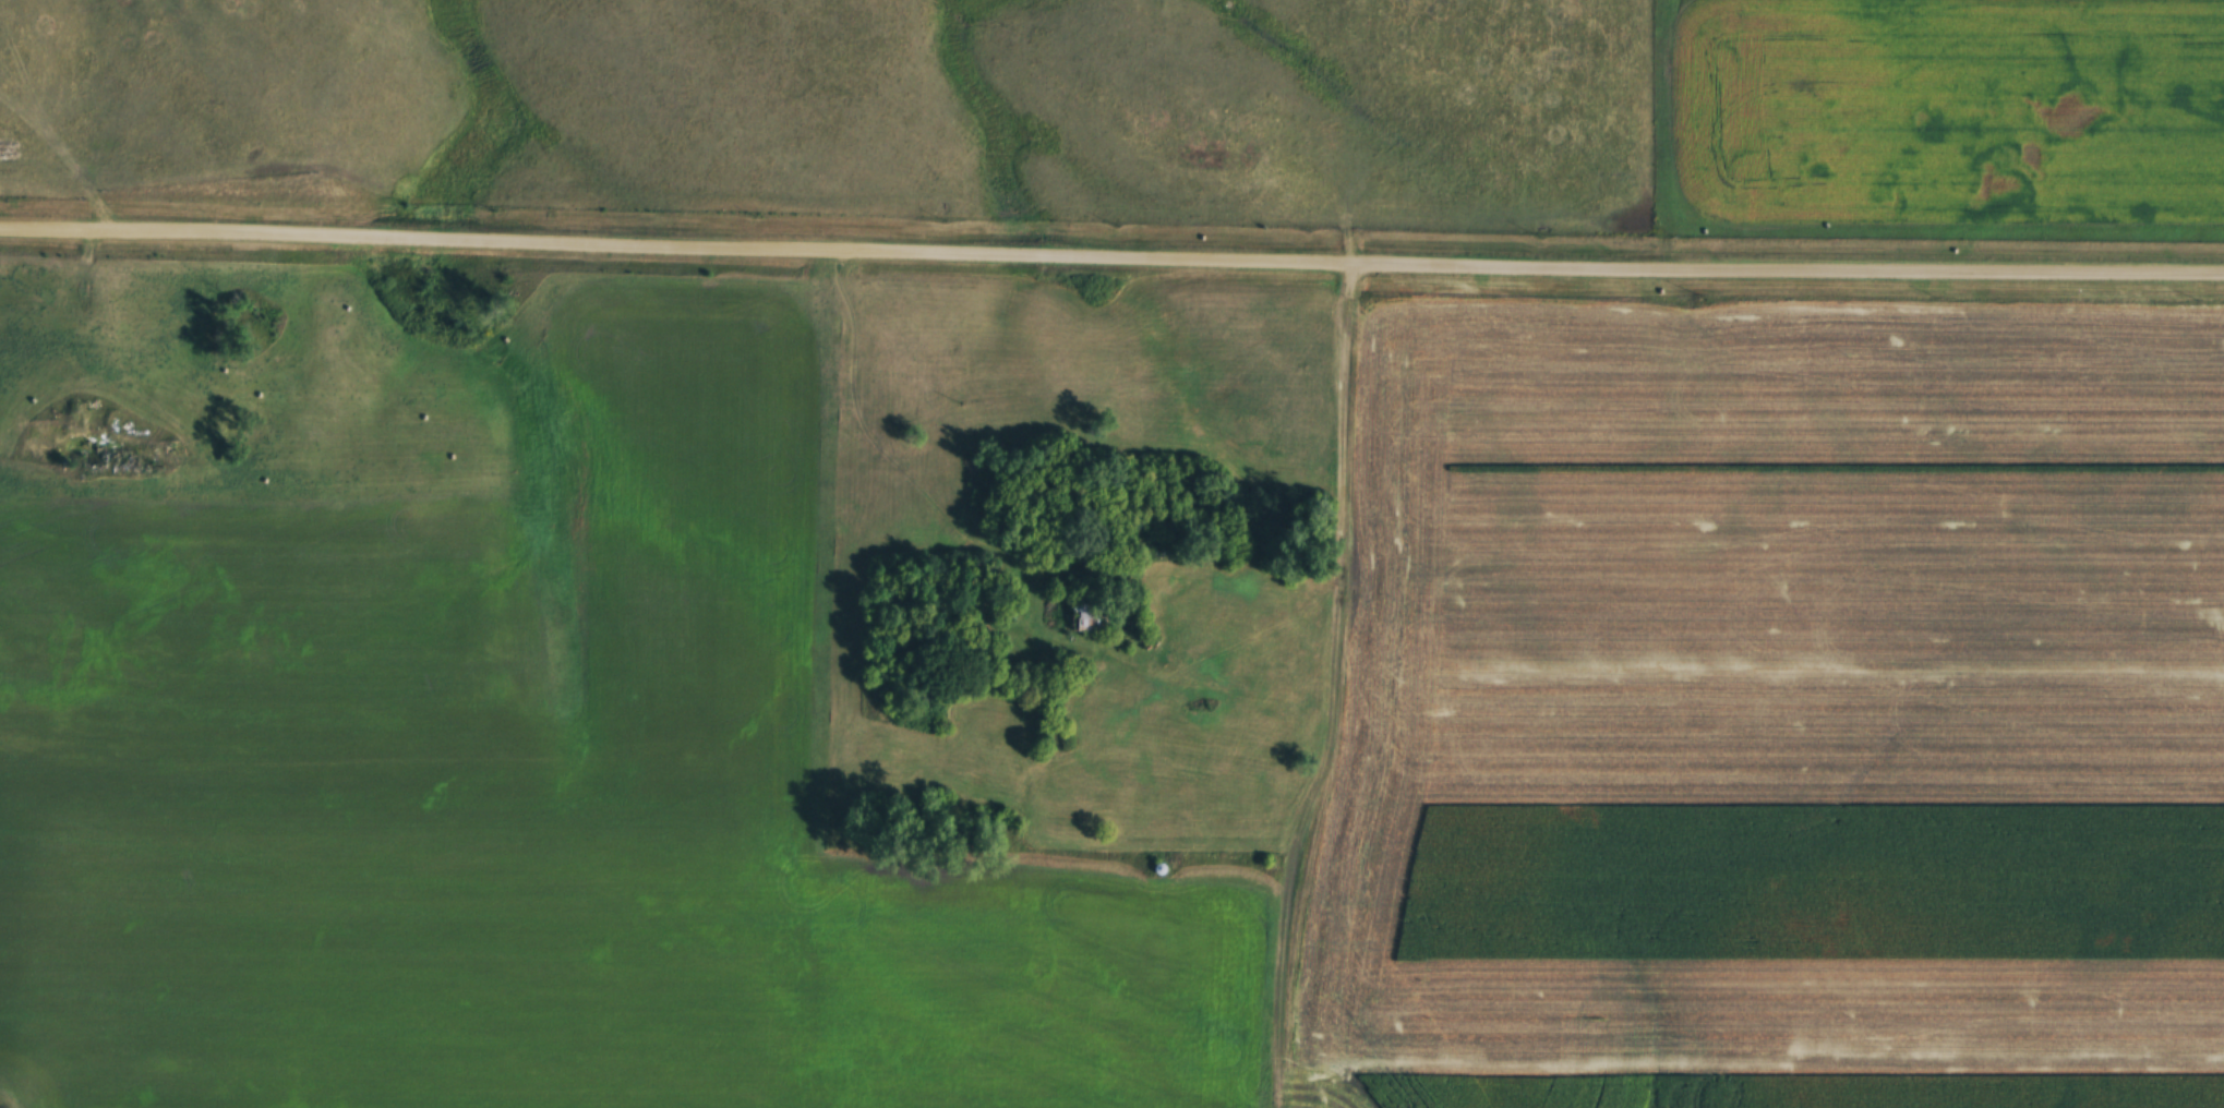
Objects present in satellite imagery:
road: (1111, 249)
road: (92, 300)
road: (1020, 567)
building: (1103, 617)
road: (1335, 685)

